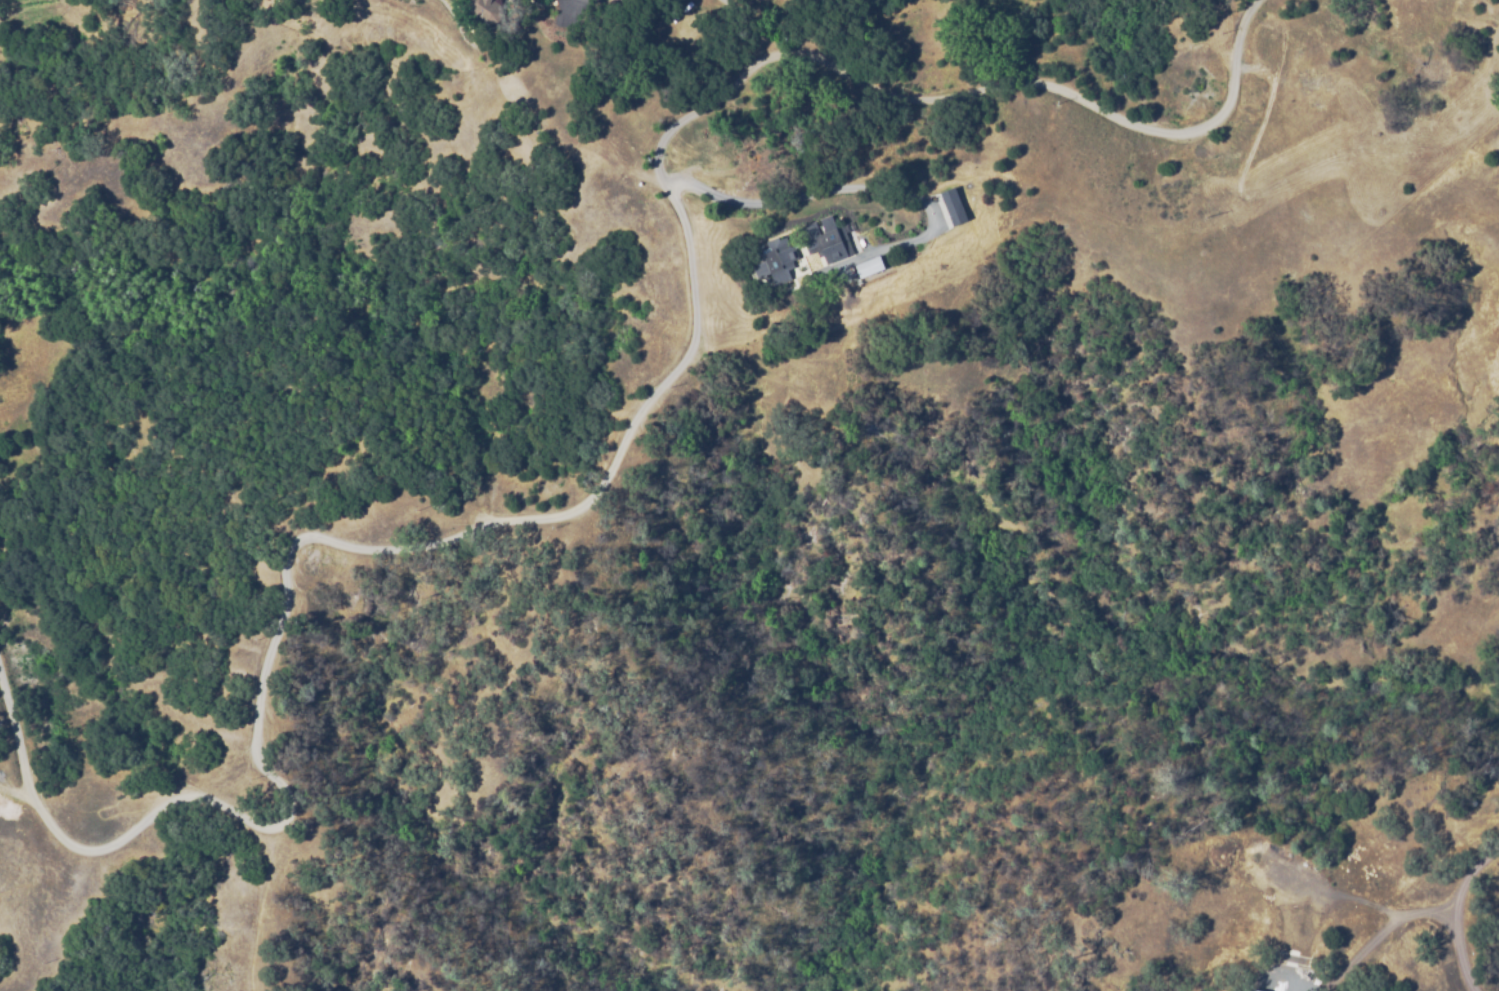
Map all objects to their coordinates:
building: (486, 8)
road: (870, 192)
building: (832, 239)
building: (778, 259)
building: (870, 266)
road: (617, 462)
road: (1419, 914)

